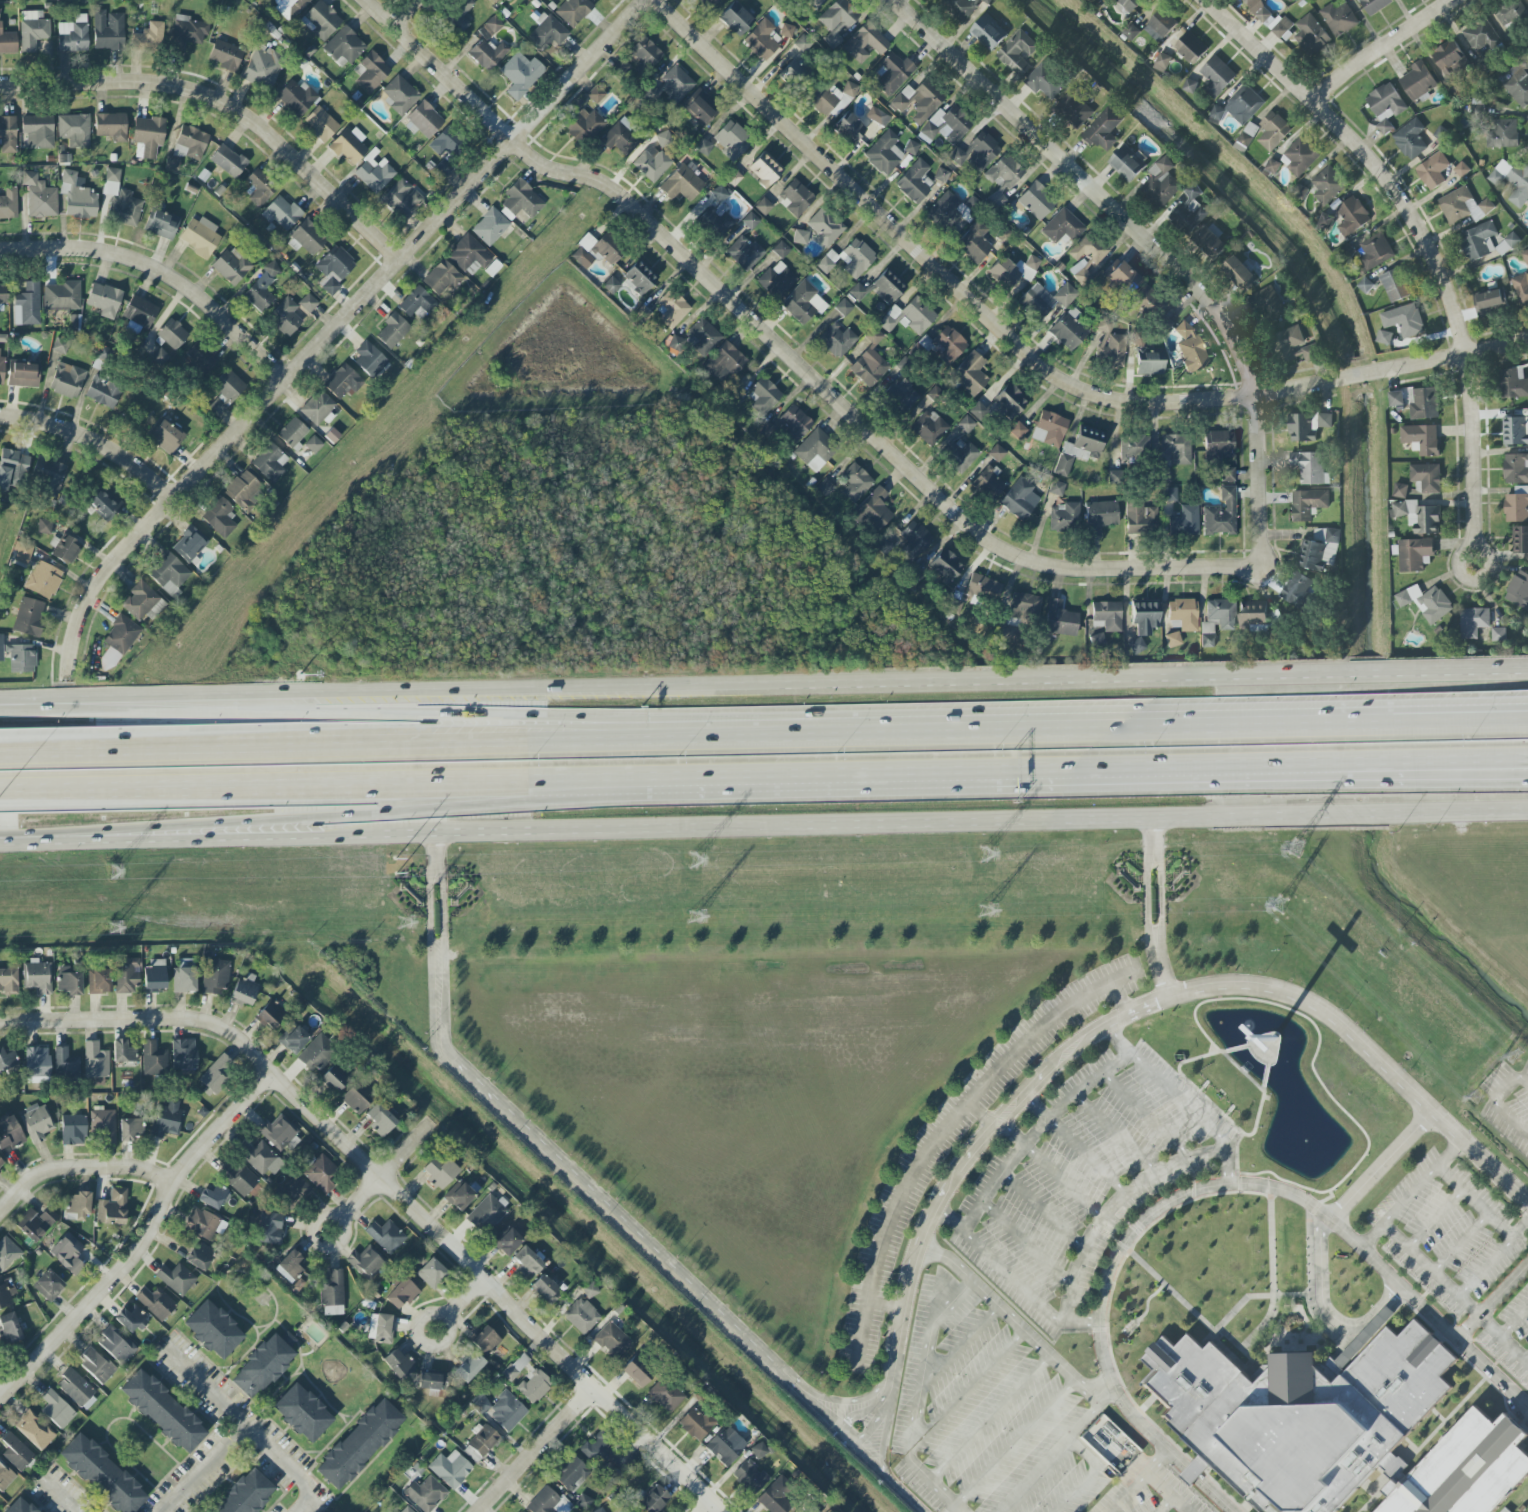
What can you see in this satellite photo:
building: (598, 0)
building: (495, 1)
building: (1526, 2)
building: (709, 3)
building: (815, 3)
building: (1130, 4)
building: (1374, 6)
building: (963, 7)
building: (290, 8)
building: (1258, 9)
building: (573, 11)
road: (406, 13)
building: (459, 13)
building: (1510, 13)
building: (1339, 18)
building: (735, 19)
building: (320, 21)
building: (838, 21)
building: (492, 25)
building: (1160, 26)
building: (1282, 28)
building: (32, 30)
building: (108, 30)
building: (786, 31)
building: (547, 32)
building: (988, 32)
building: (187, 34)
building: (73, 35)
building: (149, 35)
building: (1311, 35)
building: (1481, 37)
building: (762, 39)
building: (8, 42)
building: (802, 43)
building: (865, 44)
building: (344, 46)
building: (1191, 47)
road: (1380, 48)
building: (645, 53)
building: (1018, 53)
building: (487, 54)
building: (225, 55)
building: (1449, 58)
building: (1162, 63)
building: (260, 68)
building: (372, 71)
building: (794, 73)
building: (893, 73)
building: (521, 75)
building: (1216, 76)
building: (1045, 81)
building: (1418, 82)
building: (675, 83)
building: (1517, 85)
building: (1190, 86)
building: (596, 94)
building: (829, 95)
building: (399, 96)
building: (296, 98)
road: (228, 101)
building: (918, 101)
building: (1240, 106)
building: (1386, 106)
building: (700, 109)
building: (1074, 110)
building: (878, 117)
building: (423, 121)
building: (320, 124)
building: (947, 125)
building: (111, 126)
building: (583, 126)
building: (849, 128)
building: (74, 130)
building: (1103, 130)
building: (38, 131)
building: (1273, 131)
building: (1502, 133)
building: (8, 135)
building: (148, 136)
building: (620, 137)
building: (664, 139)
building: (1410, 139)
building: (732, 140)
building: (190, 143)
building: (445, 143)
building: (348, 146)
building: (703, 147)
building: (911, 147)
building: (884, 153)
building: (976, 153)
building: (1299, 157)
building: (228, 161)
building: (651, 163)
building: (1127, 164)
building: (765, 169)
building: (1433, 171)
building: (374, 174)
building: (733, 178)
building: (111, 181)
building: (1000, 181)
building: (1512, 181)
building: (915, 182)
building: (682, 184)
building: (1162, 184)
building: (1328, 185)
building: (1300, 192)
building: (718, 195)
building: (39, 197)
building: (78, 198)
building: (796, 198)
building: (402, 199)
building: (521, 200)
building: (1036, 201)
building: (9, 204)
building: (763, 206)
building: (1463, 206)
building: (124, 209)
building: (948, 211)
building: (1190, 212)
building: (281, 213)
building: (1352, 217)
building: (750, 221)
building: (161, 224)
building: (714, 224)
building: (490, 227)
building: (825, 227)
building: (1062, 227)
road: (1423, 235)
building: (200, 237)
building: (308, 237)
building: (800, 237)
building: (1478, 241)
building: (974, 242)
building: (1209, 243)
building: (1507, 244)
road: (1149, 247)
building: (600, 250)
building: (780, 250)
building: (1375, 252)
building: (744, 253)
building: (469, 255)
building: (1525, 256)
building: (1086, 257)
building: (849, 259)
road: (929, 260)
building: (231, 266)
building: (334, 269)
road: (160, 270)
building: (1004, 273)
building: (1239, 273)
building: (1121, 276)
building: (441, 277)
building: (638, 278)
building: (777, 280)
building: (611, 285)
building: (1365, 285)
building: (1395, 285)
building: (262, 288)
building: (880, 288)
building: (1521, 288)
building: (62, 296)
building: (2, 298)
building: (1046, 299)
building: (104, 300)
building: (1147, 302)
building: (1490, 302)
building: (308, 303)
building: (416, 303)
building: (803, 303)
building: (1269, 304)
building: (27, 305)
building: (843, 307)
building: (672, 309)
building: (139, 314)
building: (909, 316)
building: (285, 317)
building: (1404, 320)
road: (335, 326)
building: (392, 330)
building: (1069, 330)
building: (172, 334)
building: (1384, 337)
building: (697, 339)
building: (836, 340)
building: (947, 345)
building: (1111, 345)
building: (60, 346)
building: (1295, 346)
building: (1191, 350)
road: (789, 353)
building: (199, 359)
building: (370, 359)
building: (724, 361)
building: (869, 363)
building: (1149, 363)
road: (1392, 368)
building: (1, 370)
building: (970, 374)
building: (23, 375)
building: (67, 380)
building: (343, 382)
building: (1515, 384)
building: (229, 386)
building: (103, 392)
building: (764, 396)
building: (901, 396)
building: (1396, 398)
building: (1010, 400)
building: (1424, 404)
building: (218, 406)
building: (319, 409)
building: (978, 411)
building: (794, 423)
building: (966, 424)
building: (1307, 426)
building: (929, 427)
building: (1049, 429)
building: (1017, 430)
building: (1516, 431)
building: (292, 433)
building: (164, 436)
building: (1421, 439)
road: (92, 443)
building: (1085, 444)
building: (313, 445)
building: (1218, 445)
building: (1134, 446)
building: (1177, 448)
building: (815, 450)
building: (996, 453)
building: (960, 456)
building: (268, 460)
building: (1062, 465)
building: (1518, 465)
building: (12, 468)
building: (1310, 468)
building: (1226, 475)
building: (48, 476)
building: (1115, 477)
building: (1426, 477)
building: (855, 483)
building: (988, 487)
building: (1056, 488)
building: (242, 490)
building: (1400, 490)
building: (1169, 494)
building: (1019, 499)
building: (1308, 504)
building: (104, 505)
building: (1518, 507)
building: (1221, 515)
building: (219, 517)
building: (1420, 517)
building: (1065, 518)
building: (1140, 519)
building: (1185, 520)
building: (44, 526)
building: (891, 538)
building: (1520, 540)
building: (917, 542)
building: (188, 545)
building: (66, 549)
building: (1319, 550)
road: (1466, 550)
building: (22, 553)
building: (1414, 554)
building: (945, 566)
building: (169, 575)
building: (43, 580)
building: (982, 588)
building: (142, 602)
building: (1426, 602)
building: (1023, 605)
building: (952, 606)
building: (1221, 613)
building: (1183, 614)
building: (1253, 614)
building: (29, 617)
building: (1144, 617)
building: (1060, 621)
building: (1103, 621)
building: (1473, 622)
building: (1206, 635)
building: (1498, 635)
building: (1172, 639)
building: (1, 641)
building: (117, 642)
building: (21, 658)
road: (1451, 676)
road: (1022, 685)
road: (403, 697)
road: (32, 702)
road: (101, 702)
road: (393, 723)
road: (1461, 723)
road: (1081, 734)
road: (708, 743)
road: (528, 749)
road: (204, 759)
road: (1426, 764)
road: (1049, 772)
road: (1426, 773)
road: (716, 779)
road: (485, 781)
road: (156, 782)
road: (355, 809)
road: (944, 818)
road: (207, 835)
road: (26, 839)
power tower: (1297, 848)
power tower: (984, 856)
power tower: (692, 860)
power tower: (402, 863)
power tower: (113, 867)
power tower: (1279, 904)
power tower: (984, 907)
road: (1153, 907)
power tower: (693, 914)
power tower: (403, 920)
power tower: (113, 925)
building: (126, 975)
building: (37, 977)
building: (215, 977)
building: (154, 978)
building: (184, 979)
building: (8, 980)
building: (68, 982)
building: (99, 982)
building: (244, 992)
road: (1119, 1000)
building: (269, 1016)
road: (144, 1019)
building: (293, 1039)
road: (1077, 1048)
building: (123, 1051)
building: (315, 1053)
building: (184, 1055)
power tower: (1517, 1056)
building: (153, 1057)
building: (7, 1061)
building: (95, 1061)
building: (37, 1062)
building: (65, 1062)
building: (214, 1075)
building: (333, 1079)
building: (355, 1098)
power tower: (1478, 1099)
road: (1180, 1101)
road: (1499, 1106)
road: (980, 1115)
road: (1146, 1116)
building: (380, 1120)
building: (165, 1121)
building: (36, 1123)
building: (104, 1127)
building: (130, 1129)
building: (73, 1130)
road: (941, 1131)
building: (9, 1132)
road: (1036, 1133)
building: (279, 1134)
road: (1116, 1135)
road: (341, 1137)
road: (1076, 1145)
building: (259, 1157)
building: (1, 1166)
road: (1381, 1166)
road: (78, 1168)
road: (1052, 1170)
building: (439, 1171)
building: (322, 1174)
building: (238, 1178)
road: (579, 1184)
road: (1410, 1194)
building: (458, 1196)
building: (213, 1198)
road: (1475, 1201)
building: (76, 1207)
road: (1115, 1207)
building: (112, 1208)
road: (353, 1208)
road: (1044, 1210)
building: (485, 1214)
road: (1155, 1214)
road: (1436, 1220)
building: (39, 1224)
building: (203, 1224)
building: (270, 1228)
building: (386, 1236)
building: (506, 1241)
road: (143, 1243)
road: (1026, 1243)
road: (1460, 1243)
building: (7, 1253)
building: (70, 1255)
building: (200, 1257)
road: (1492, 1258)
building: (364, 1263)
building: (526, 1263)
building: (289, 1266)
building: (431, 1273)
building: (176, 1279)
road: (1011, 1280)
building: (48, 1285)
building: (545, 1290)
building: (589, 1290)
building: (332, 1293)
building: (401, 1293)
road: (1454, 1295)
building: (6, 1297)
road: (1491, 1301)
building: (155, 1303)
road: (884, 1305)
road: (1325, 1307)
building: (581, 1316)
building: (130, 1320)
road: (1513, 1321)
road: (1017, 1325)
building: (9, 1329)
building: (383, 1329)
building: (213, 1330)
building: (484, 1340)
building: (611, 1340)
road: (446, 1343)
building: (116, 1345)
road: (959, 1348)
road: (564, 1360)
road: (1526, 1360)
building: (397, 1362)
building: (96, 1364)
building: (262, 1367)
building: (468, 1367)
building: (515, 1367)
building: (636, 1372)
road: (1492, 1373)
building: (429, 1381)
building: (534, 1386)
building: (77, 1390)
road: (966, 1390)
building: (665, 1395)
road: (1, 1397)
road: (917, 1400)
building: (480, 1403)
building: (56, 1410)
building: (162, 1411)
building: (506, 1412)
building: (302, 1413)
road: (989, 1418)
road: (1086, 1420)
building: (695, 1423)
building: (1336, 1426)
building: (34, 1430)
road: (253, 1432)
road: (1013, 1440)
building: (359, 1444)
building: (481, 1444)
building: (723, 1446)
building: (758, 1450)
road: (536, 1451)
building: (16, 1452)
building: (595, 1452)
road: (1084, 1454)
road: (1155, 1460)
road: (205, 1469)
building: (450, 1469)
building: (1196, 1471)
building: (572, 1474)
building: (102, 1475)
road: (1035, 1476)
building: (748, 1477)
building: (5, 1478)
road: (1077, 1490)
road: (1125, 1492)
road: (1164, 1492)
building: (244, 1493)
building: (425, 1494)
building: (776, 1496)
road: (63, 1497)
building: (653, 1500)
building: (543, 1501)
building: (583, 1502)
road: (1165, 1505)
building: (19, 1506)
road: (707, 1507)
building: (406, 1509)
building: (809, 1509)
road: (954, 1509)
building: (600, 1510)

